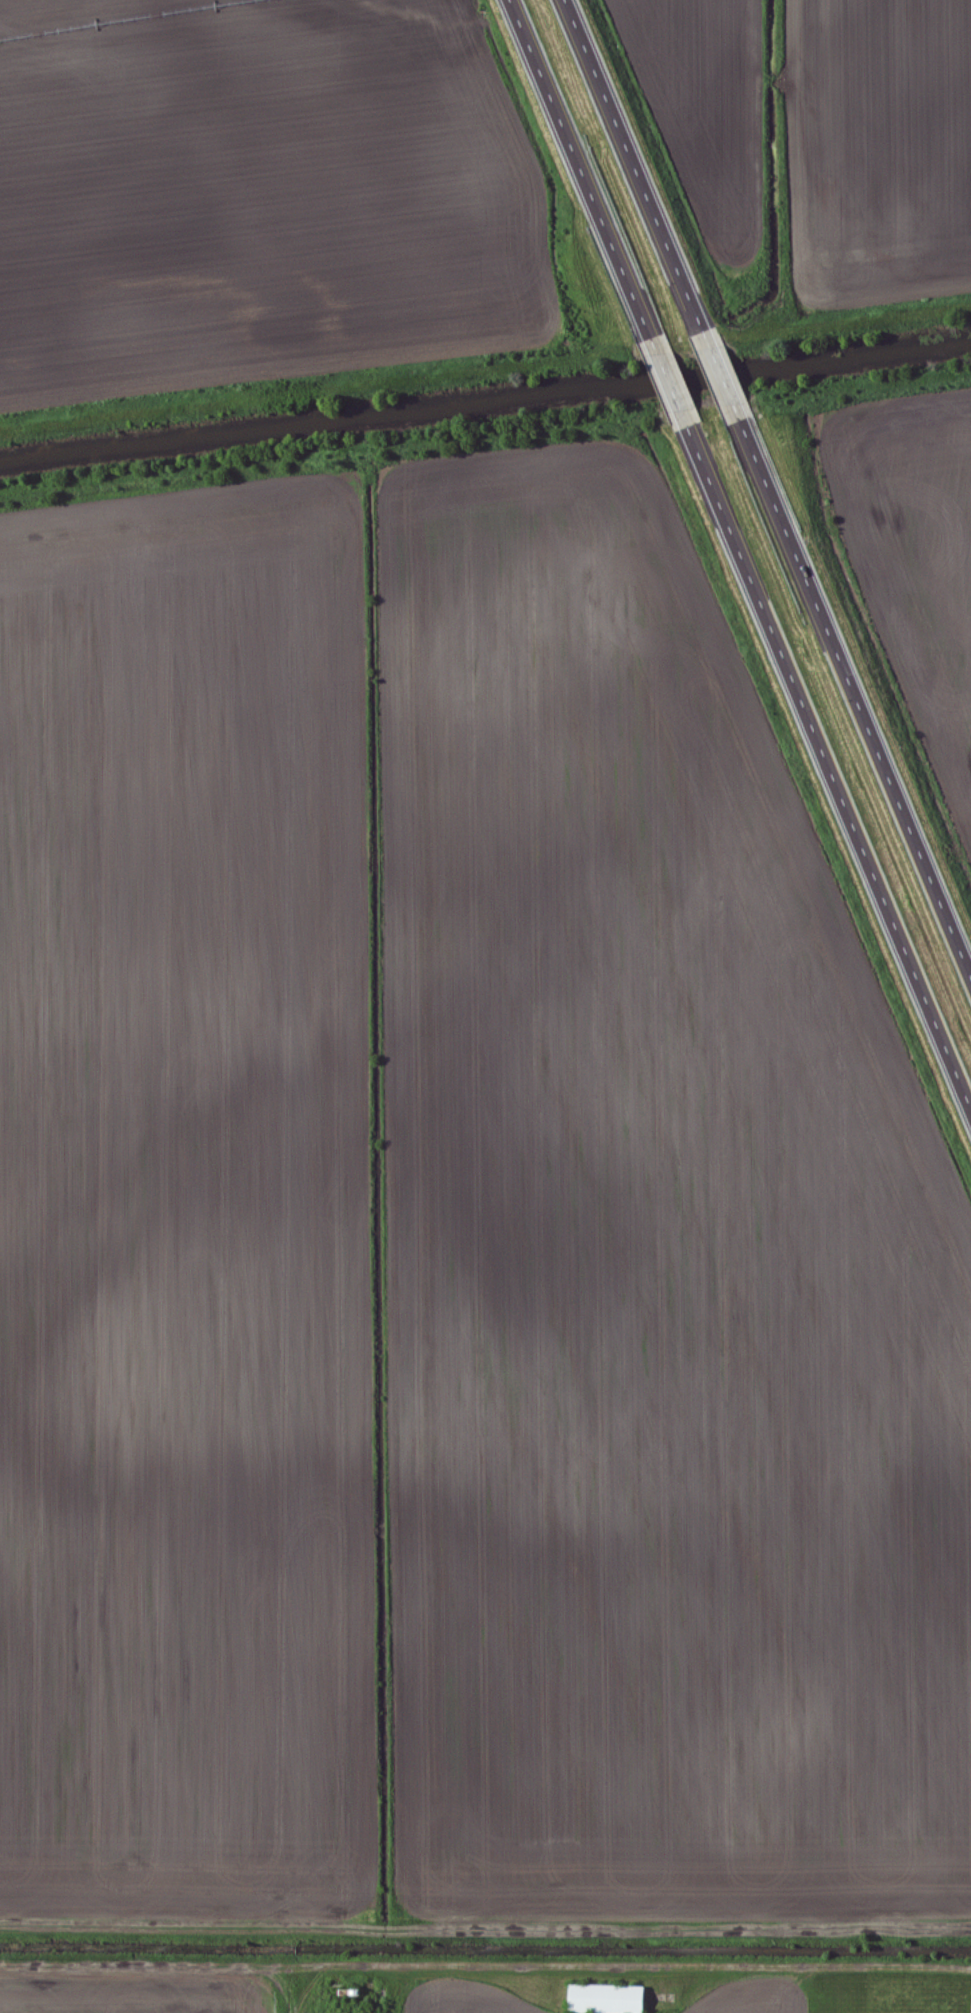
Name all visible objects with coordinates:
road: (634, 165)
road: (580, 168)
road: (722, 373)
road: (668, 380)
road: (856, 688)
road: (828, 765)
road: (485, 1920)
building: (614, 2000)

